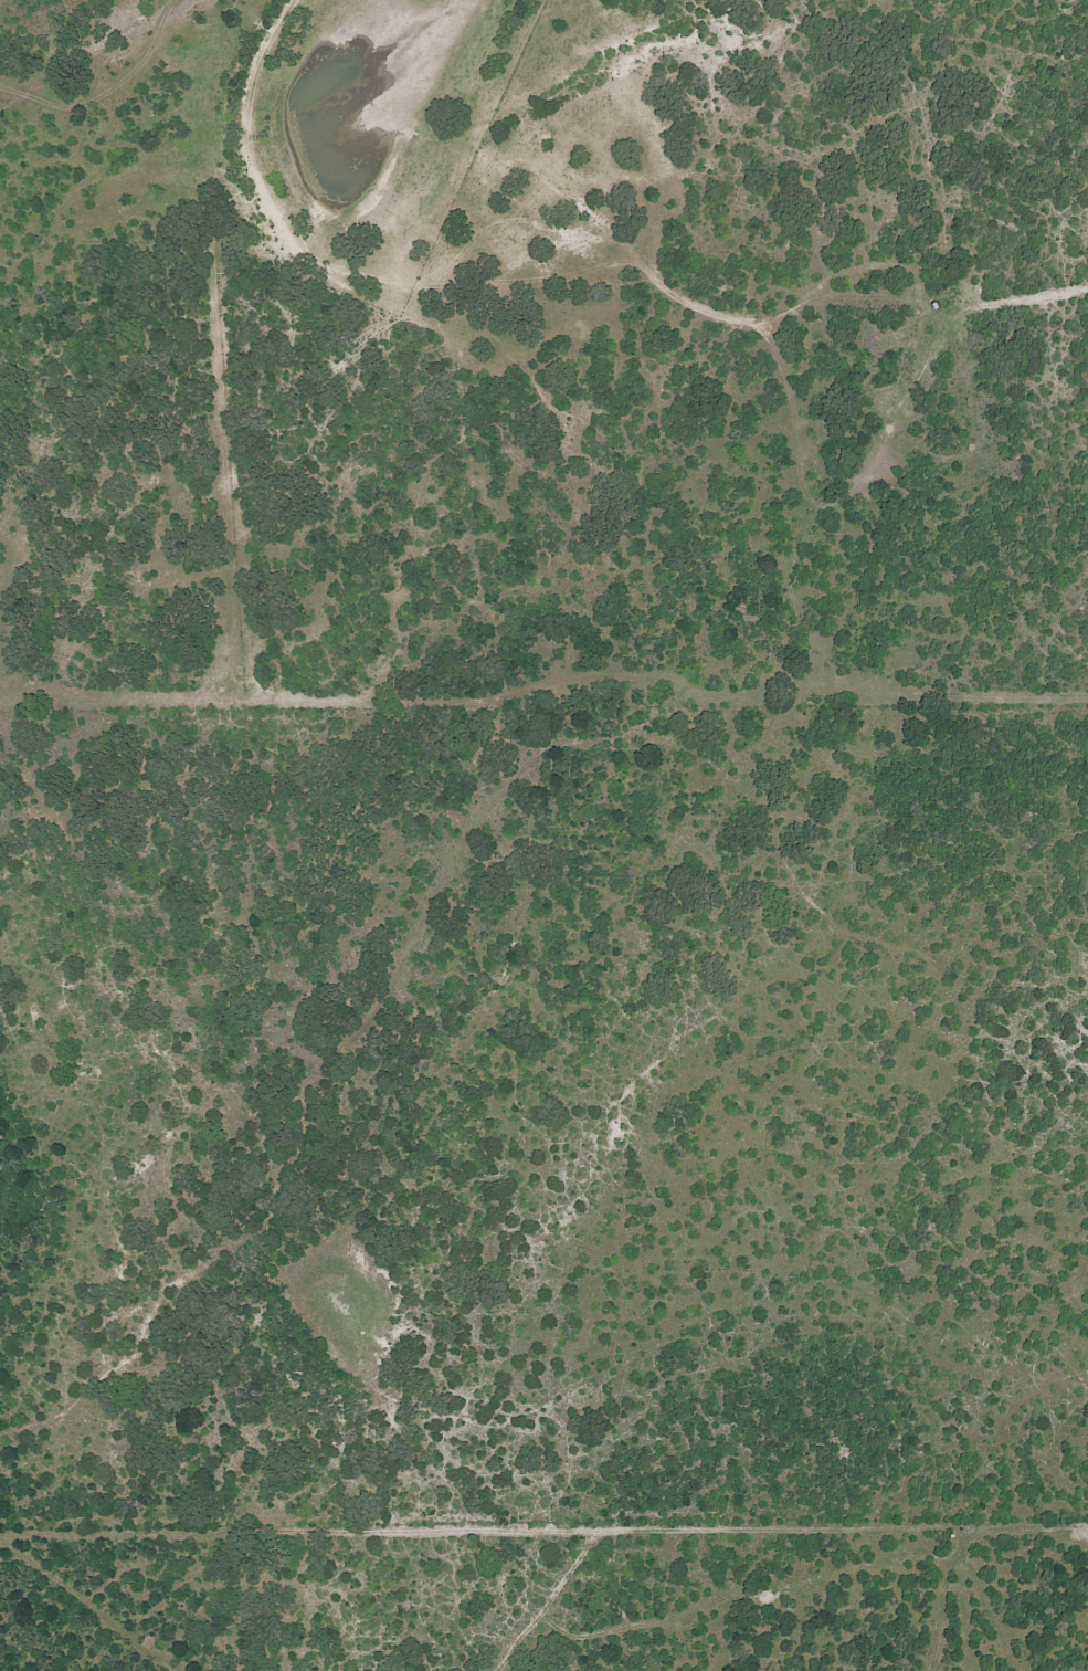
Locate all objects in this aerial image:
road: (65, 45)
road: (472, 852)

